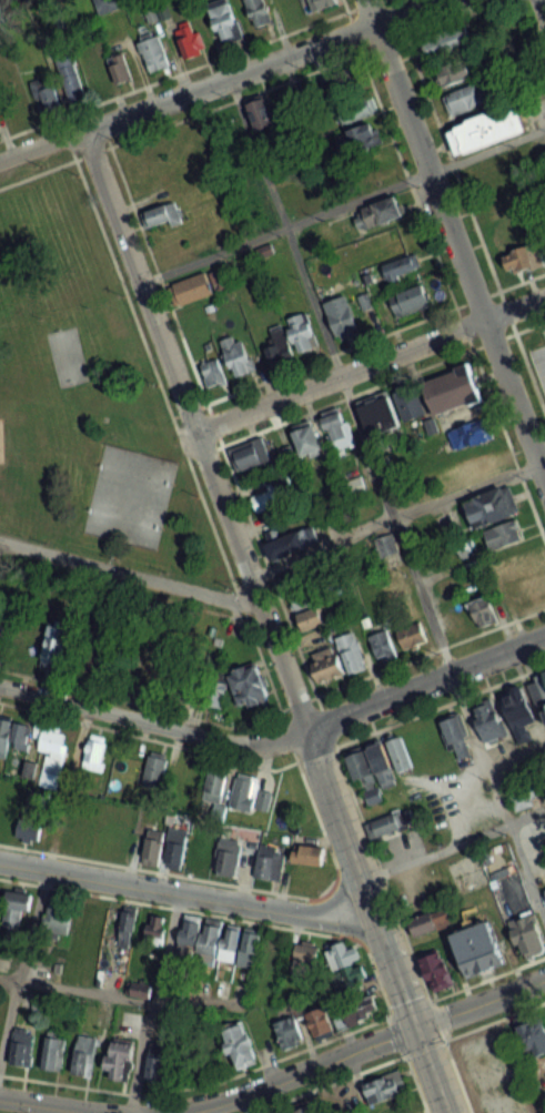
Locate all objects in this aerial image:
building: (317, 4)
building: (259, 12)
road: (538, 16)
building: (225, 23)
building: (190, 39)
building: (152, 50)
building: (119, 68)
road: (186, 68)
building: (455, 73)
building: (70, 77)
building: (99, 77)
road: (219, 80)
road: (250, 93)
building: (44, 94)
building: (465, 98)
building: (486, 131)
building: (359, 138)
building: (496, 171)
road: (343, 204)
road: (466, 209)
building: (380, 212)
building: (162, 215)
road: (455, 240)
building: (522, 245)
building: (401, 266)
road: (441, 273)
building: (200, 285)
building: (410, 301)
building: (341, 316)
building: (291, 337)
road: (356, 343)
park: (65, 355)
building: (236, 356)
road: (370, 362)
building: (213, 373)
road: (366, 388)
building: (452, 391)
park: (83, 396)
building: (377, 413)
road: (210, 419)
road: (195, 428)
building: (336, 429)
road: (178, 433)
building: (472, 433)
building: (306, 439)
building: (252, 455)
building: (481, 463)
park: (133, 475)
building: (271, 497)
road: (385, 500)
building: (492, 506)
road: (395, 516)
park: (122, 519)
building: (503, 535)
building: (290, 544)
road: (480, 556)
road: (129, 575)
building: (301, 585)
building: (484, 611)
building: (310, 619)
building: (412, 636)
building: (1, 637)
building: (382, 646)
building: (54, 648)
road: (430, 650)
building: (337, 659)
building: (139, 675)
building: (542, 680)
road: (424, 681)
building: (248, 685)
building: (216, 691)
road: (314, 696)
road: (139, 702)
road: (438, 704)
building: (518, 715)
building: (490, 720)
road: (152, 721)
building: (455, 735)
building: (12, 736)
road: (147, 737)
building: (51, 740)
road: (514, 745)
building: (400, 753)
building: (93, 755)
building: (381, 766)
building: (154, 768)
building: (360, 769)
building: (214, 785)
building: (517, 785)
building: (249, 793)
building: (29, 822)
road: (453, 843)
building: (165, 848)
building: (307, 854)
building: (228, 856)
building: (269, 862)
road: (165, 872)
road: (380, 872)
road: (330, 891)
road: (188, 896)
building: (17, 907)
road: (174, 907)
building: (58, 917)
road: (377, 921)
building: (430, 922)
building: (127, 925)
building: (154, 931)
building: (527, 937)
building: (220, 941)
building: (474, 950)
building: (305, 959)
road: (21, 960)
building: (346, 969)
building: (436, 970)
road: (486, 977)
road: (120, 998)
road: (426, 1000)
road: (151, 1003)
road: (480, 1003)
building: (354, 1012)
road: (493, 1020)
building: (320, 1023)
traffic signals: (415, 1028)
building: (289, 1032)
building: (533, 1033)
building: (239, 1046)
building: (23, 1049)
building: (53, 1050)
building: (84, 1054)
building: (120, 1059)
building: (161, 1063)
road: (297, 1073)
road: (455, 1076)
road: (414, 1082)
road: (323, 1083)
road: (198, 1084)
building: (385, 1087)
building: (341, 1101)
road: (51, 1105)
building: (304, 1109)
building: (397, 1109)

